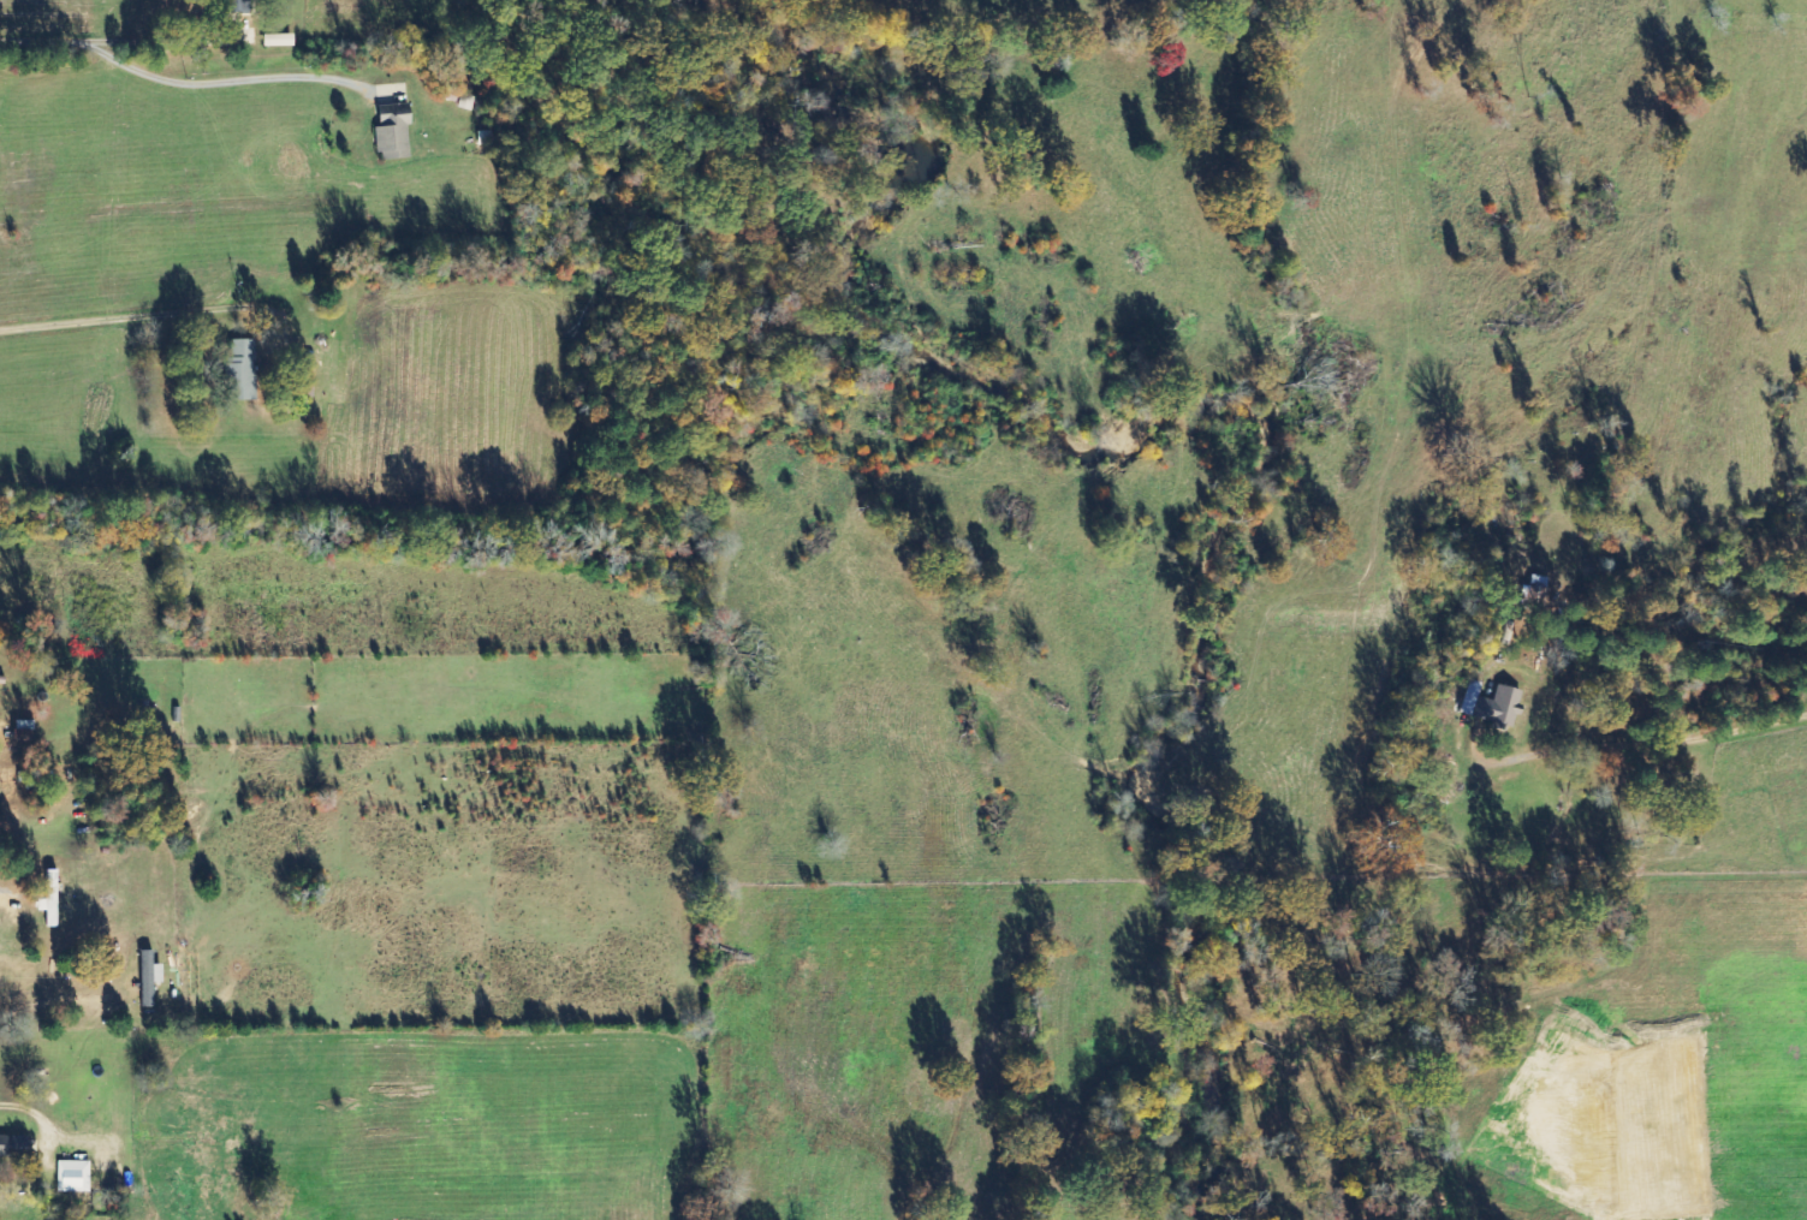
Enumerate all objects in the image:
building: (240, 6)
road: (120, 36)
building: (280, 41)
building: (396, 133)
road: (120, 319)
building: (243, 370)
building: (1464, 697)
building: (1499, 706)
building: (150, 978)
building: (14, 1145)
building: (75, 1177)

